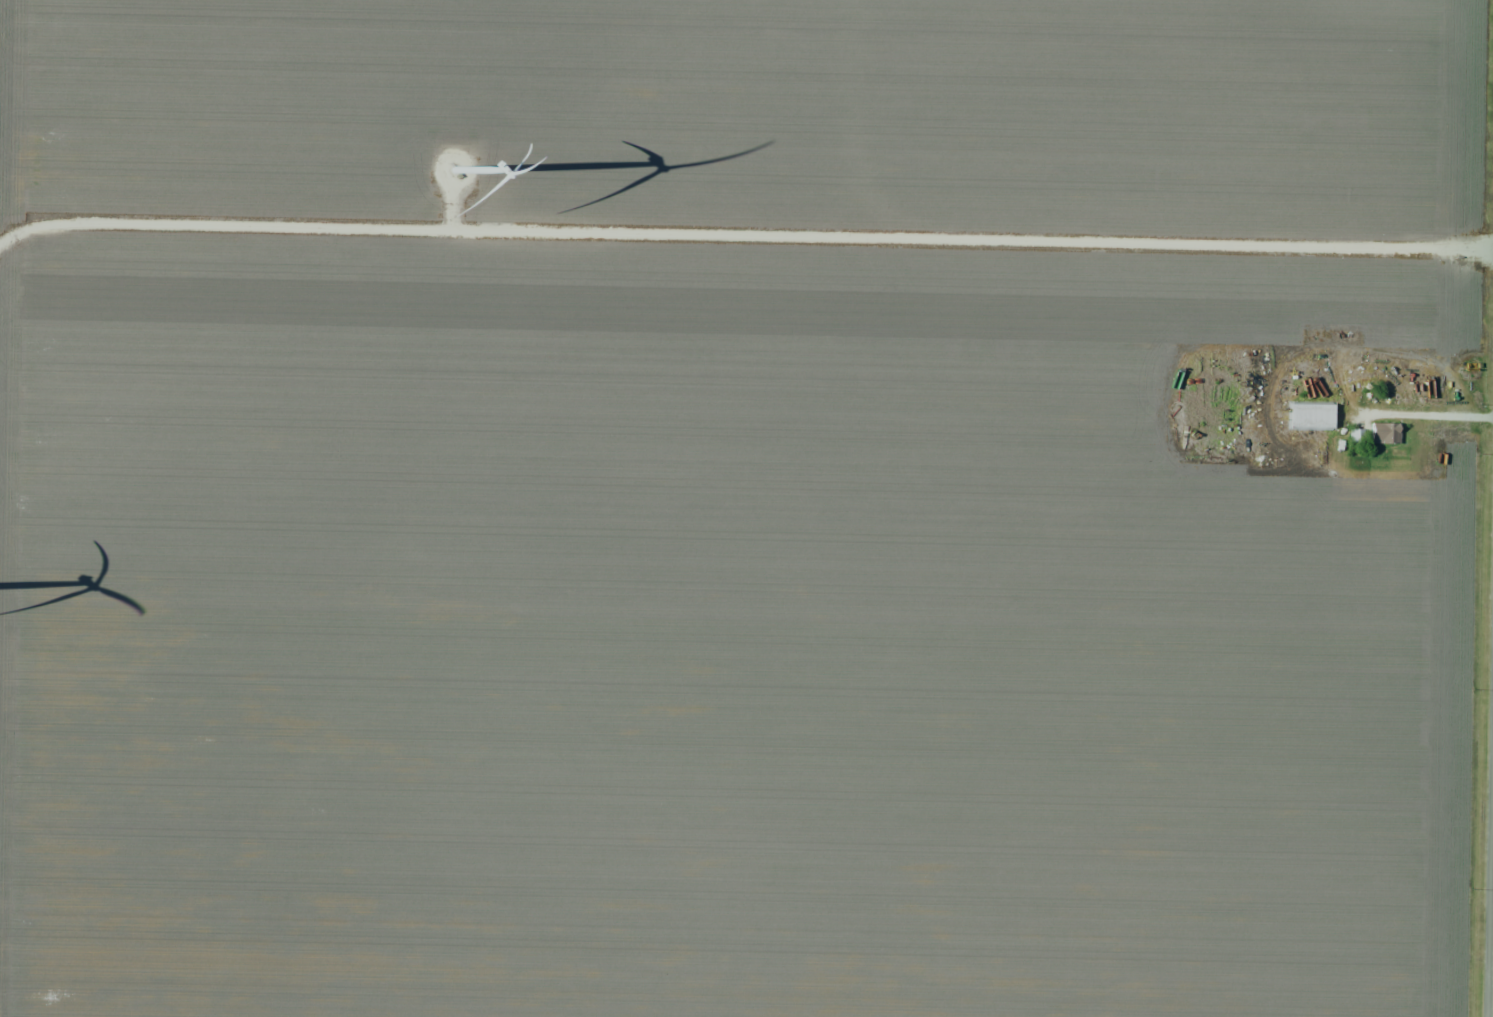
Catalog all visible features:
wind turbine: (437, 161)
building: (1305, 415)
building: (1382, 433)
road: (1487, 711)

